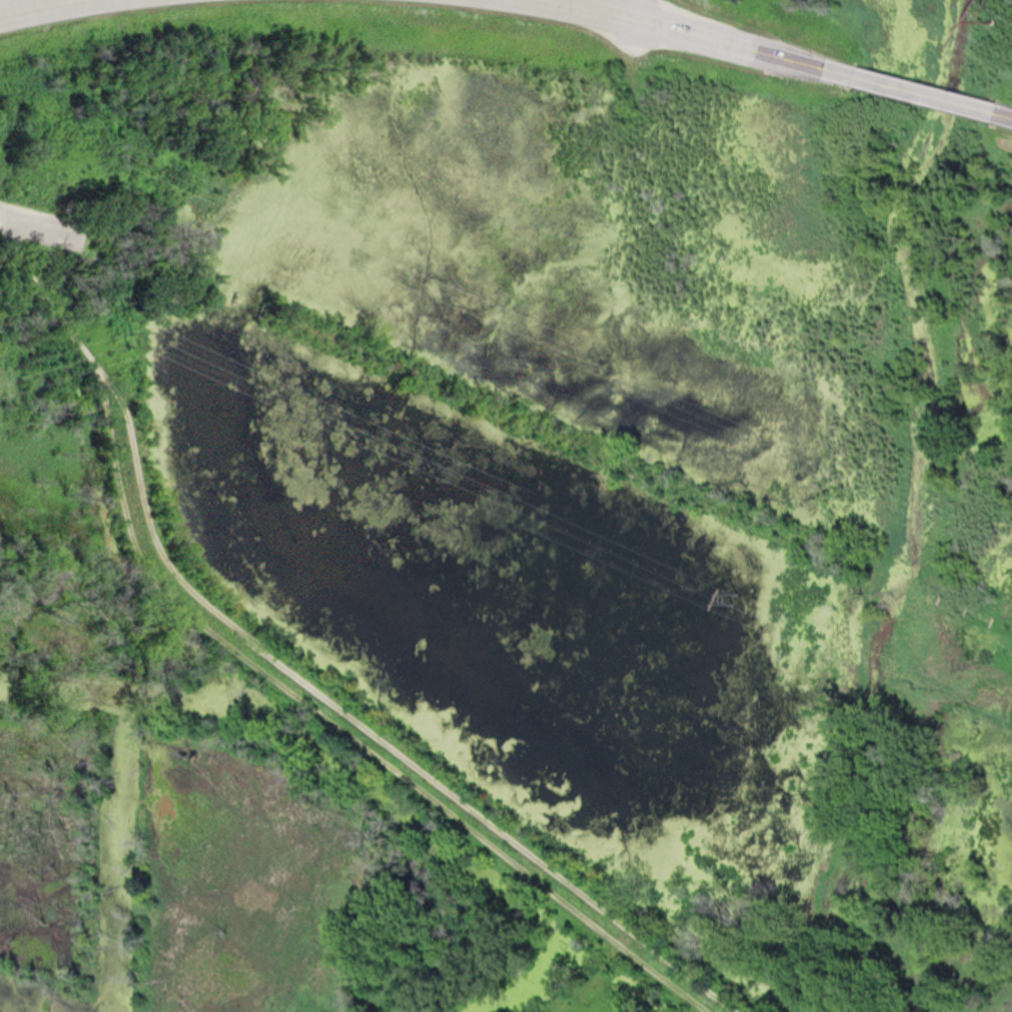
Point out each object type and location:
power tower: (1002, 2)
road: (33, 6)
road: (703, 34)
road: (926, 93)
road: (1004, 115)
power tower: (109, 155)
power tower: (130, 330)
power tower: (597, 364)
river: (912, 505)
road: (293, 669)
river: (806, 1009)

